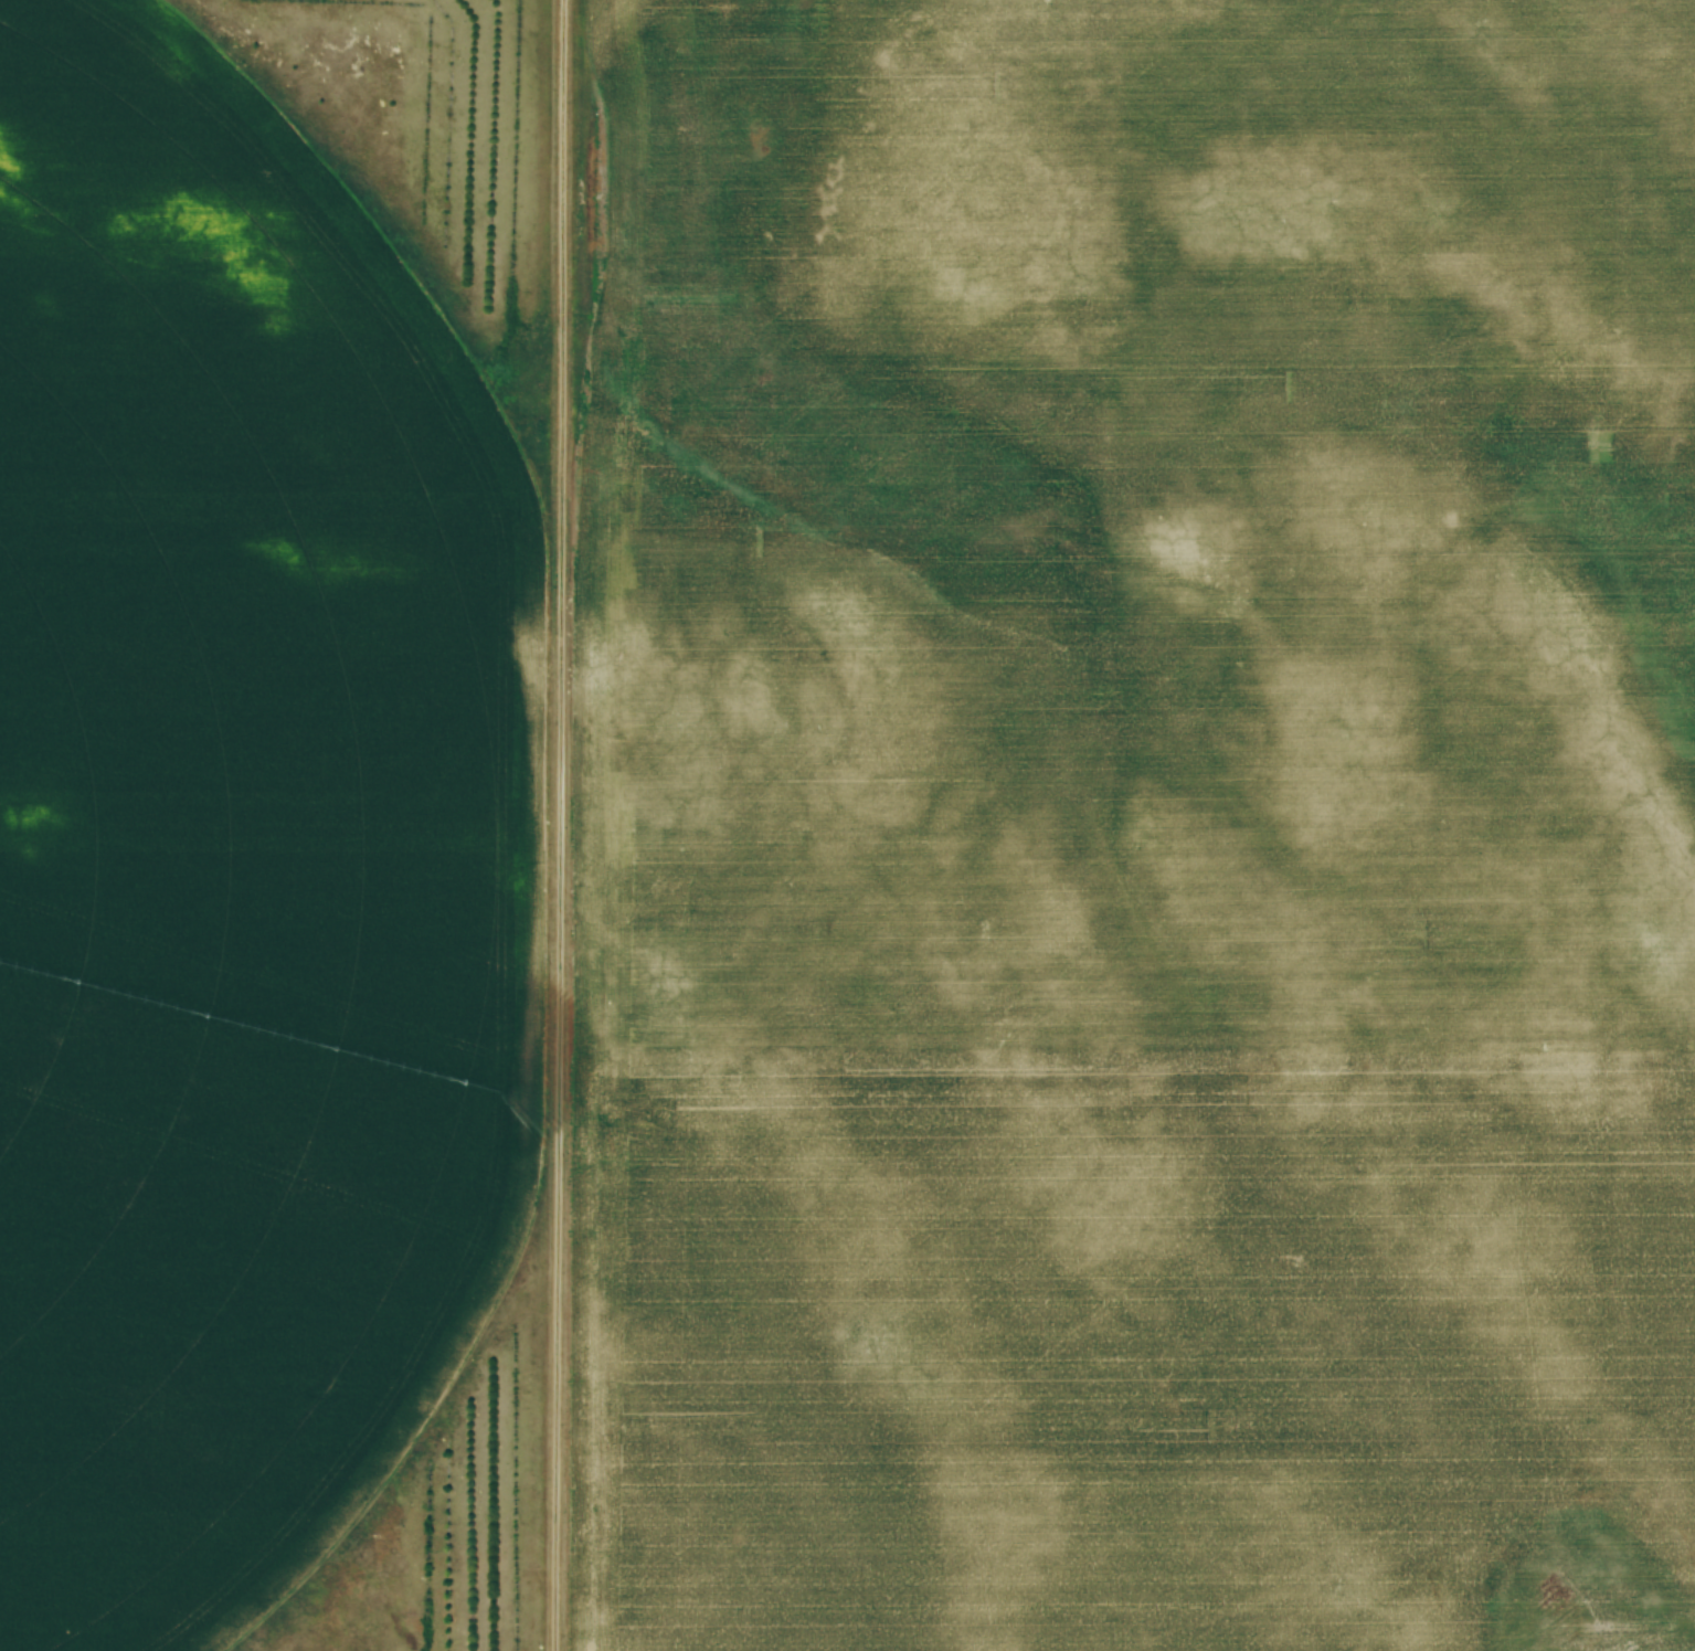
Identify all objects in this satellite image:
road: (558, 825)

